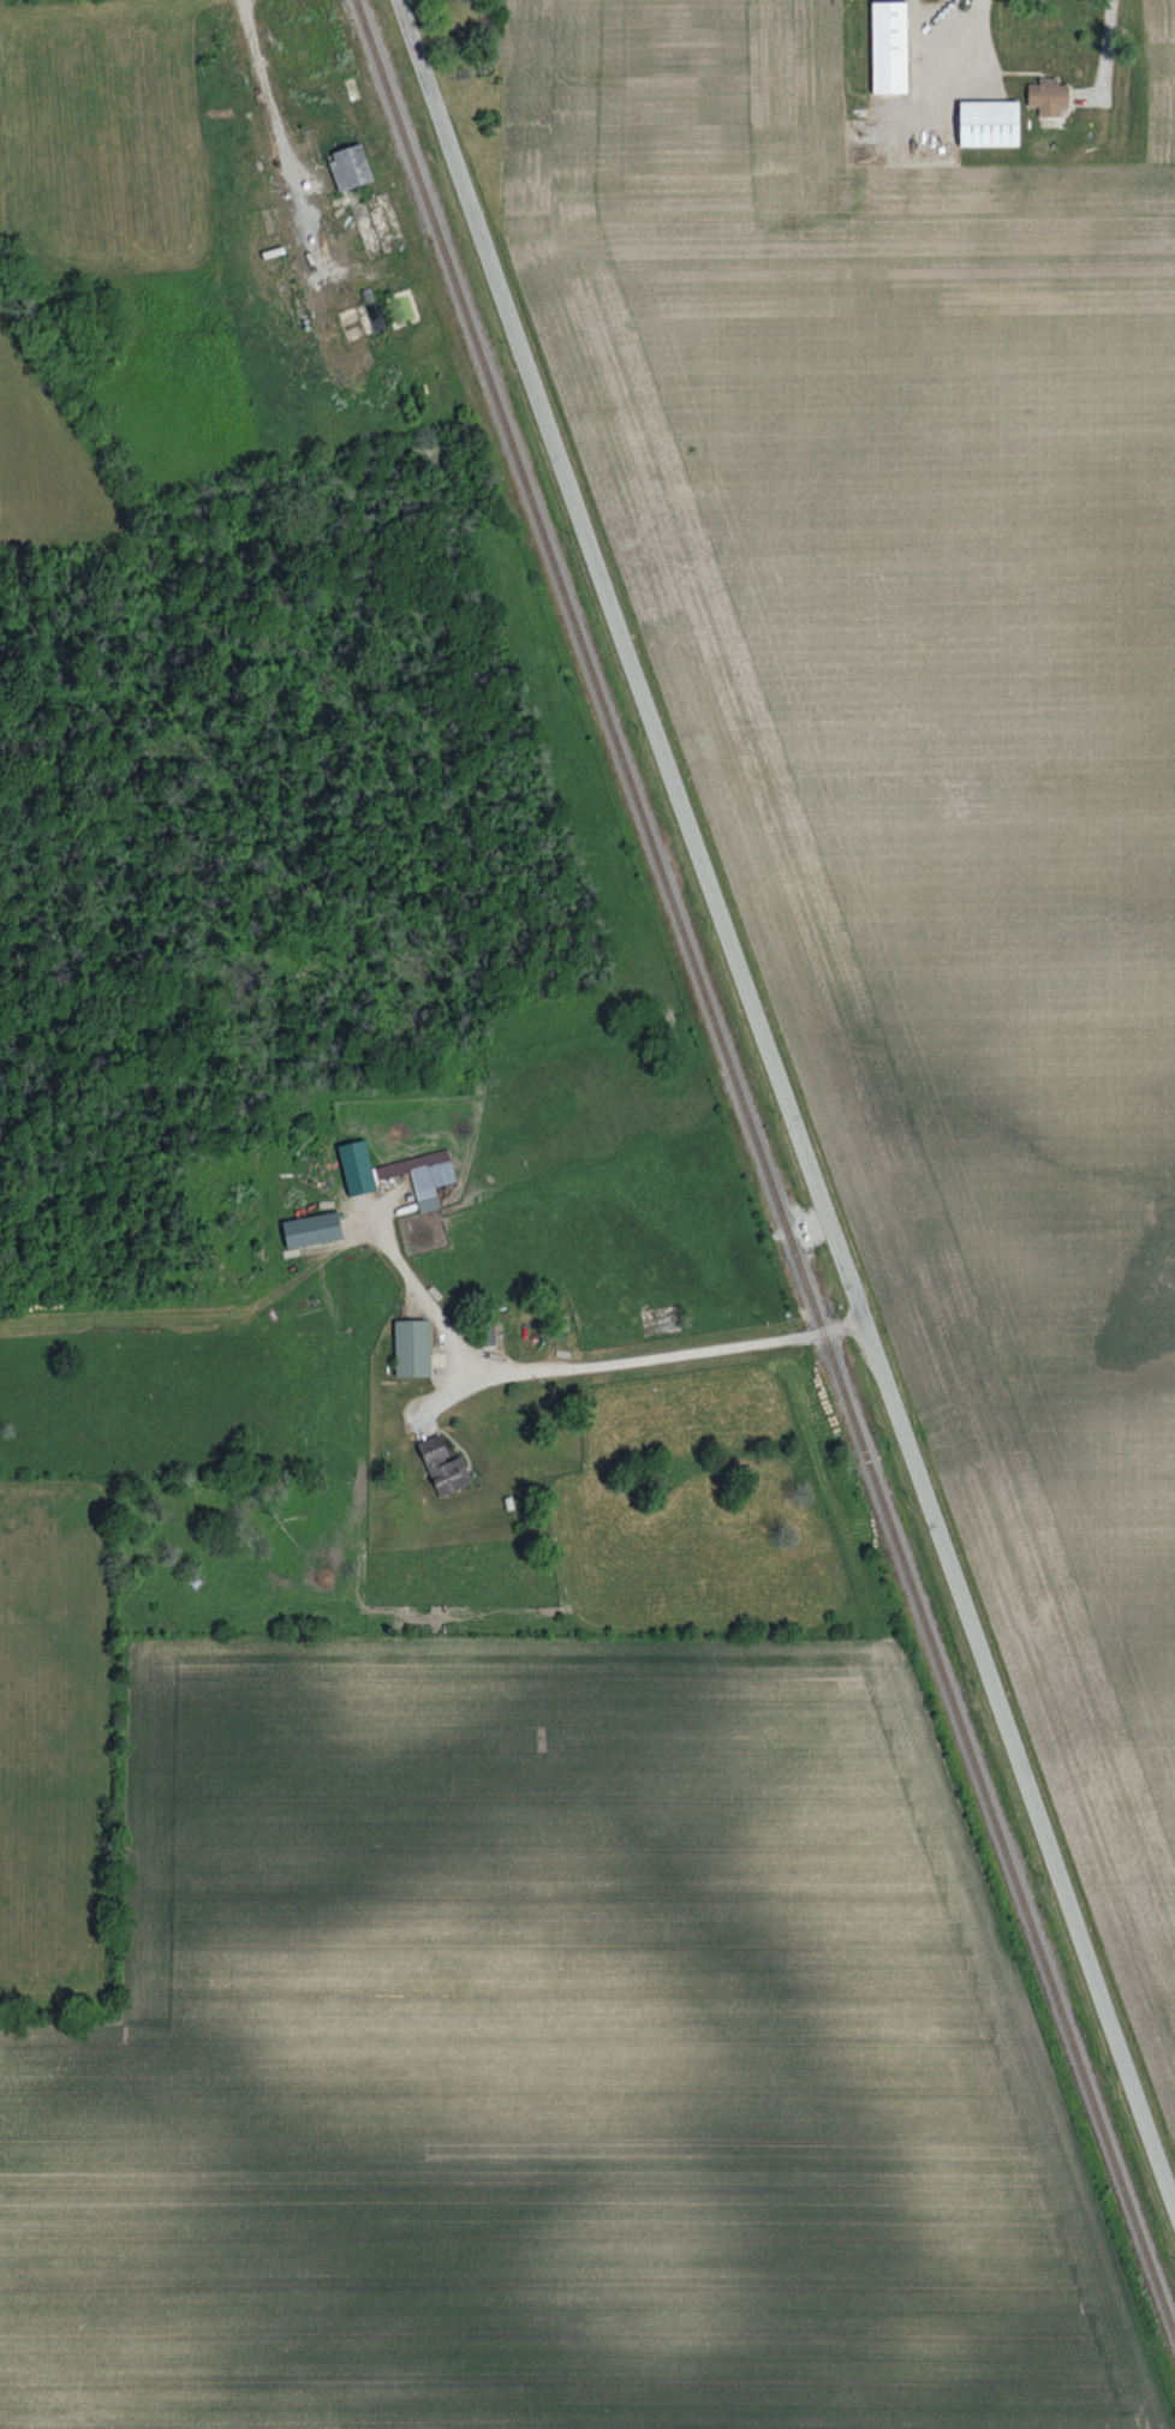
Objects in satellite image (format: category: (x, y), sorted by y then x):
building: (891, 47)
road: (1108, 47)
road: (954, 49)
building: (1048, 96)
building: (991, 124)
road: (276, 129)
building: (351, 167)
road: (789, 1111)
building: (357, 1166)
railway: (765, 1171)
building: (422, 1175)
building: (314, 1229)
building: (413, 1348)
road: (586, 1367)
building: (445, 1467)

